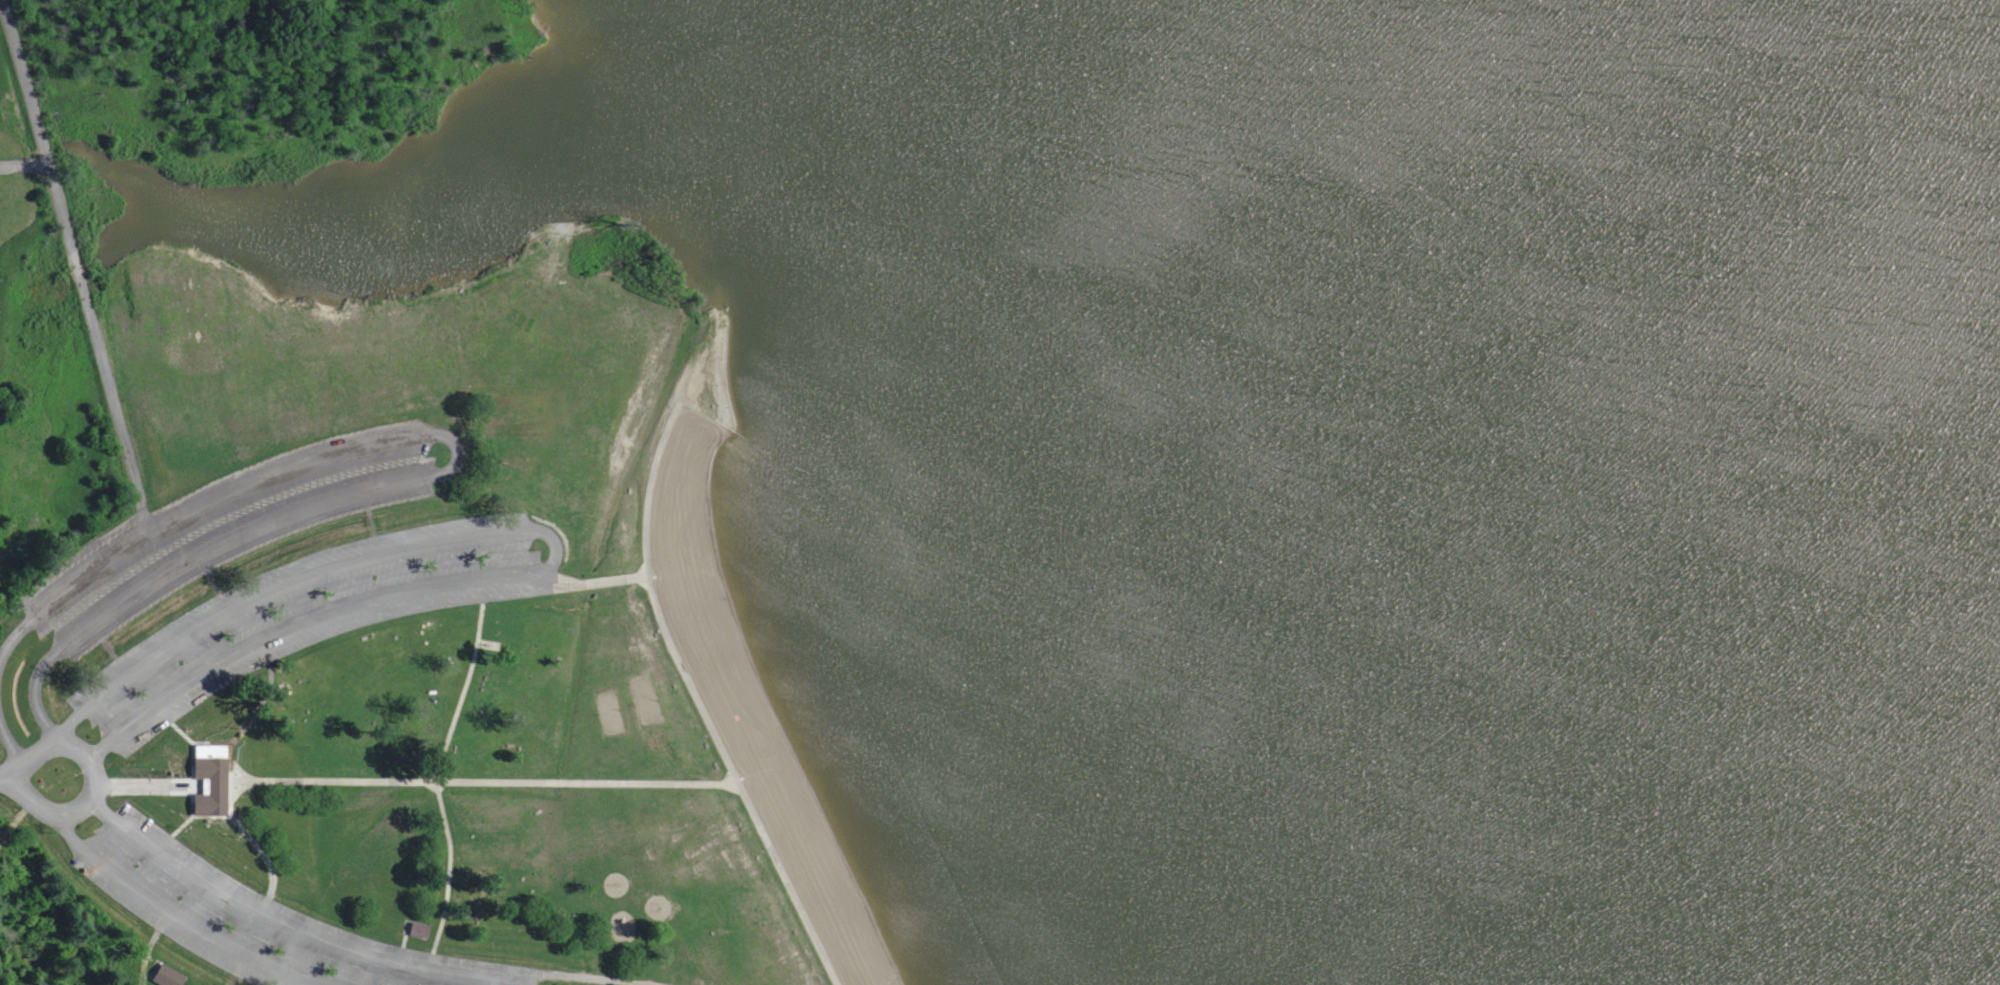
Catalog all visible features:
road: (24, 163)
road: (76, 265)
road: (450, 465)
road: (364, 498)
road: (369, 521)
parking lot: (221, 528)
road: (544, 532)
road: (374, 545)
road: (201, 563)
road: (548, 579)
road: (602, 582)
road: (212, 583)
road: (480, 589)
parking lot: (303, 614)
road: (242, 627)
road: (95, 631)
road: (106, 648)
road: (140, 690)
park: (644, 699)
road: (696, 702)
road: (258, 706)
park: (609, 713)
road: (11, 751)
building: (141, 772)
road: (6, 777)
building: (211, 778)
road: (228, 778)
road: (483, 780)
road: (435, 783)
road: (139, 784)
road: (191, 788)
road: (60, 813)
road: (15, 817)
road: (265, 859)
road: (173, 916)
parking lot: (252, 918)
road: (291, 926)
building: (417, 930)
road: (400, 945)
road: (148, 946)
road: (37, 964)
road: (140, 969)
building: (166, 973)
road: (586, 977)
road: (279, 980)

